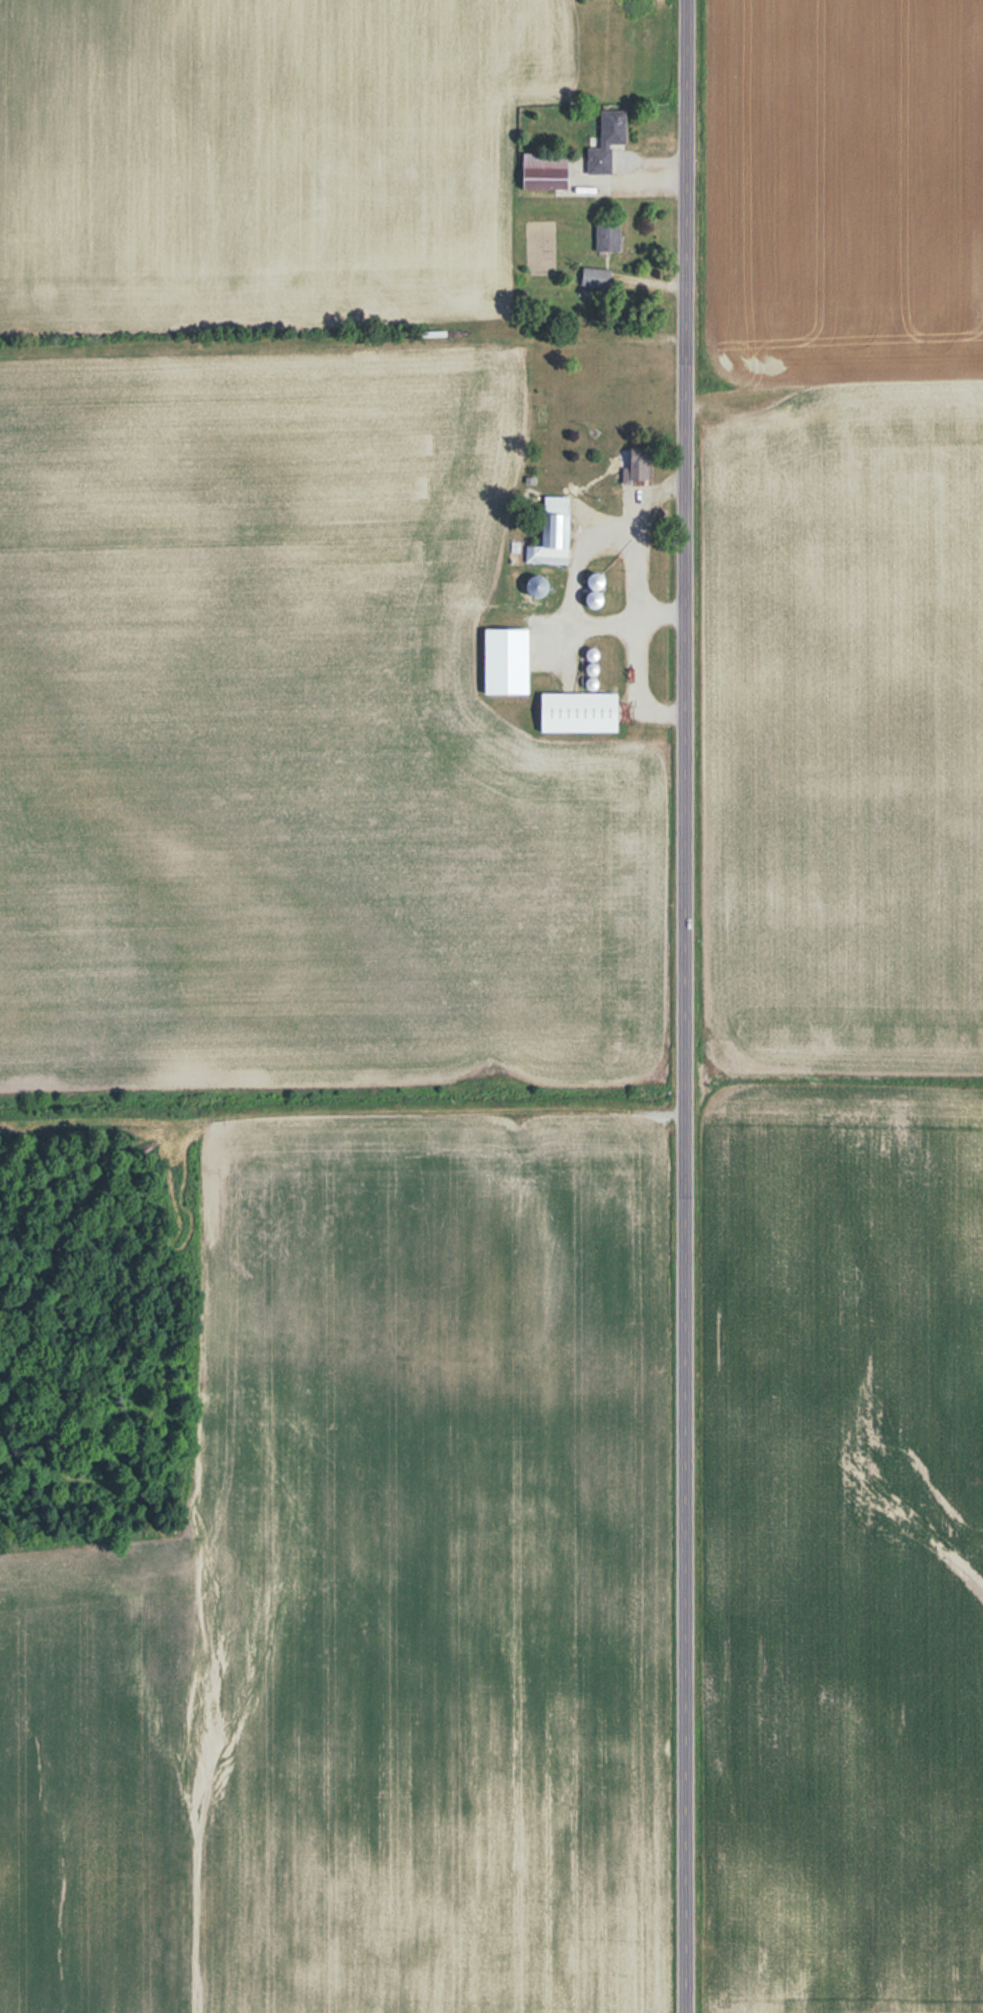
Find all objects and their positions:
building: (607, 141)
building: (544, 171)
road: (618, 173)
building: (607, 237)
building: (595, 277)
building: (639, 467)
building: (553, 534)
road: (574, 581)
building: (596, 582)
building: (538, 587)
road: (636, 630)
building: (580, 713)
road: (680, 1006)

